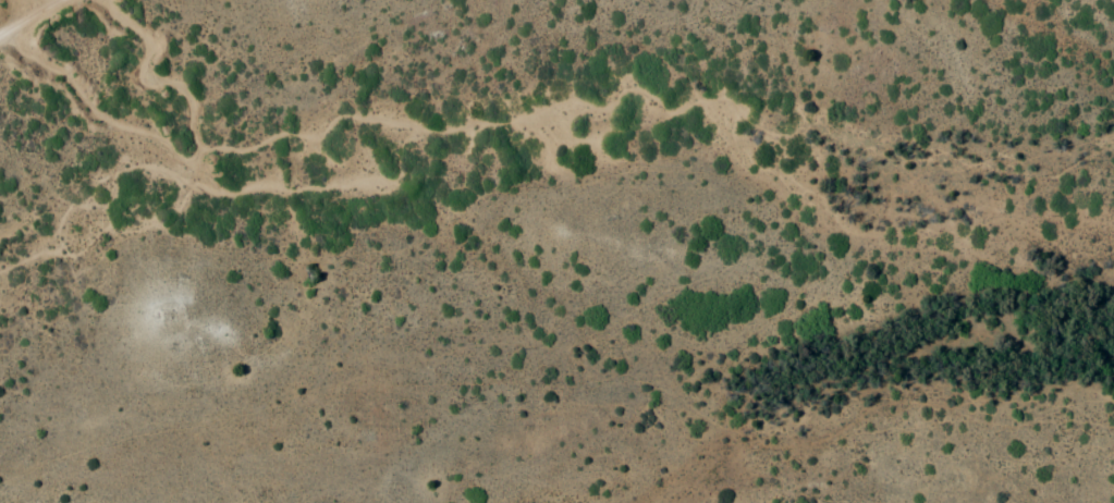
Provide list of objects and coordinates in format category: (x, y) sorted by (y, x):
road: (30, 19)

